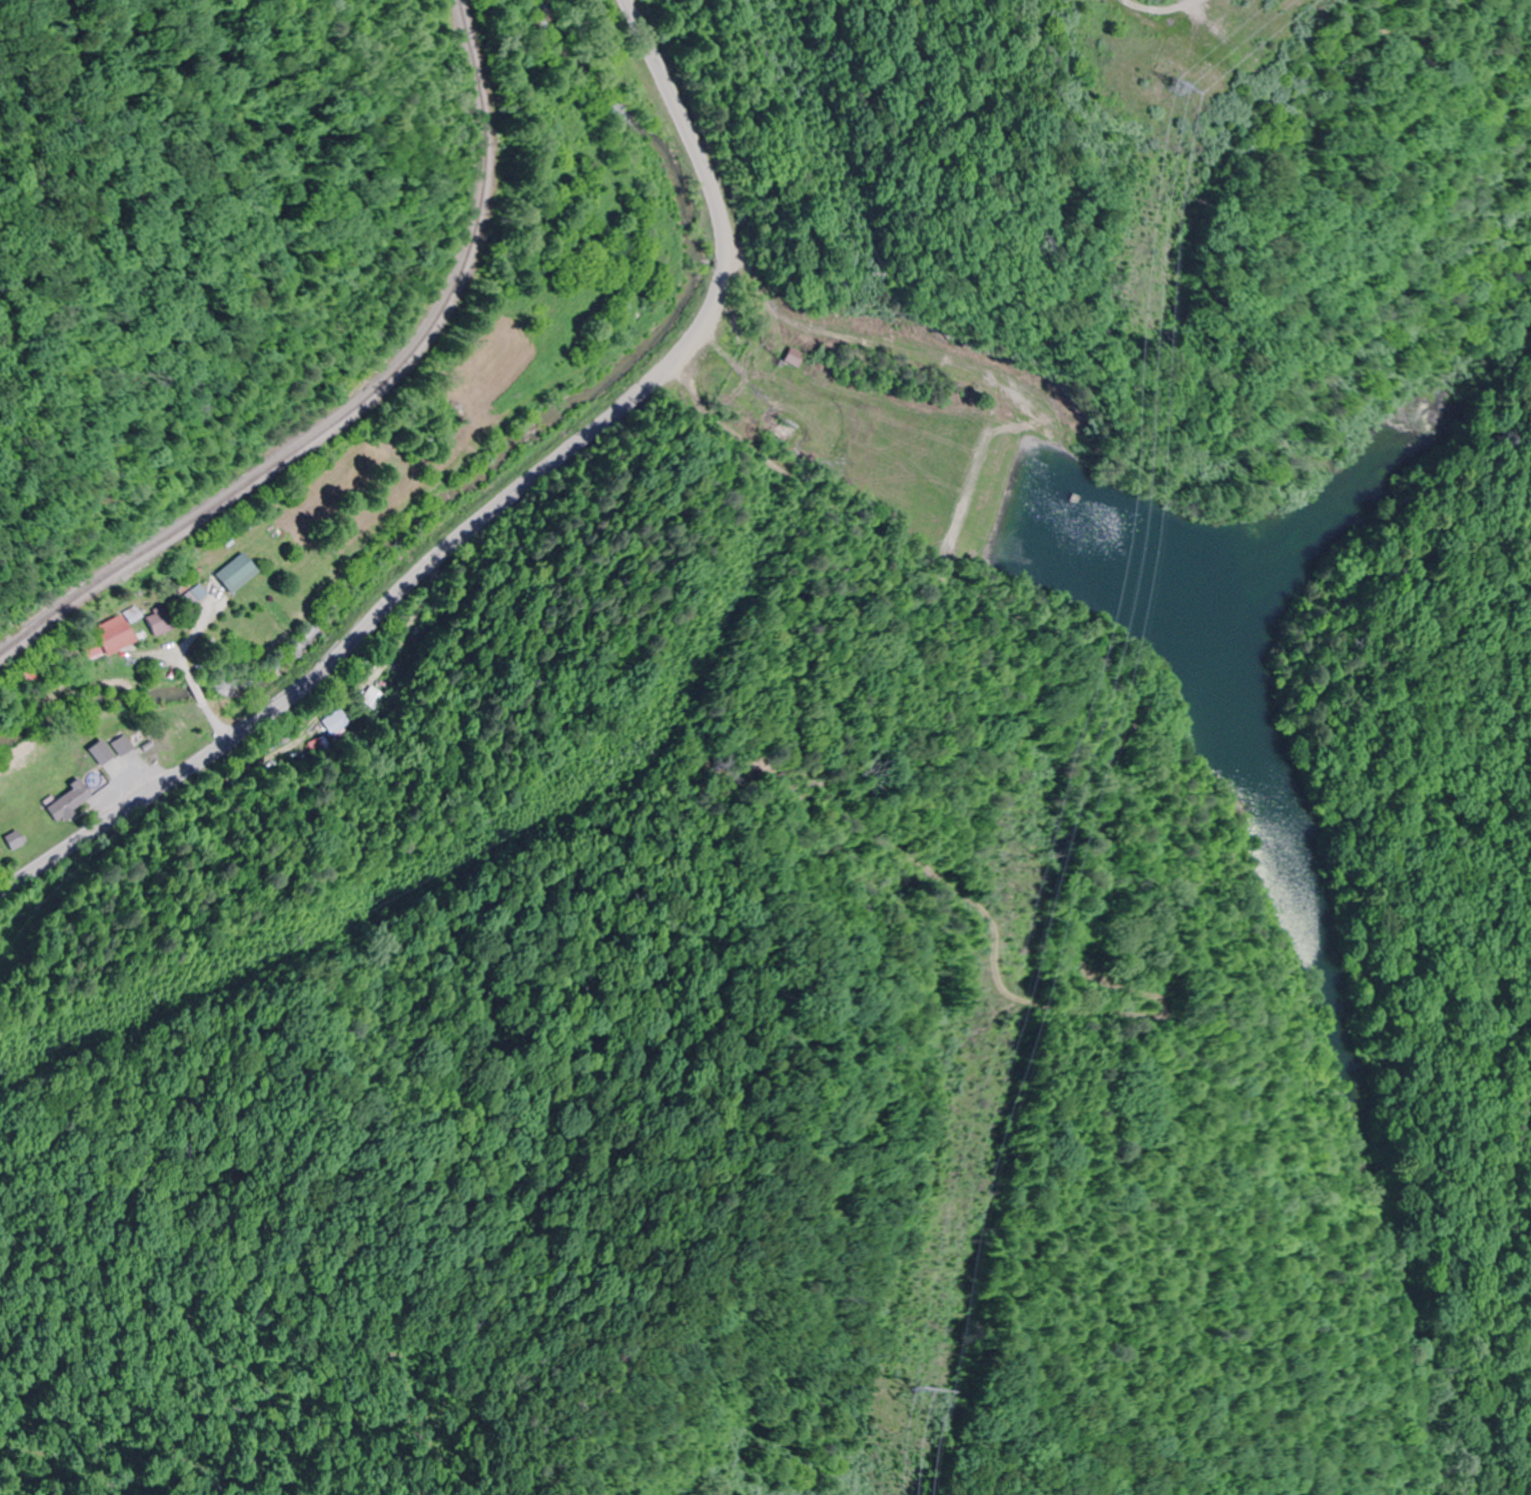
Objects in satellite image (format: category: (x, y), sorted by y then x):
power tower: (1169, 88)
building: (794, 357)
railway: (360, 399)
road: (495, 512)
building: (233, 574)
building: (160, 622)
building: (114, 636)
building: (370, 698)
building: (332, 722)
building: (119, 745)
building: (98, 752)
building: (66, 801)
building: (10, 840)
power tower: (904, 1388)

